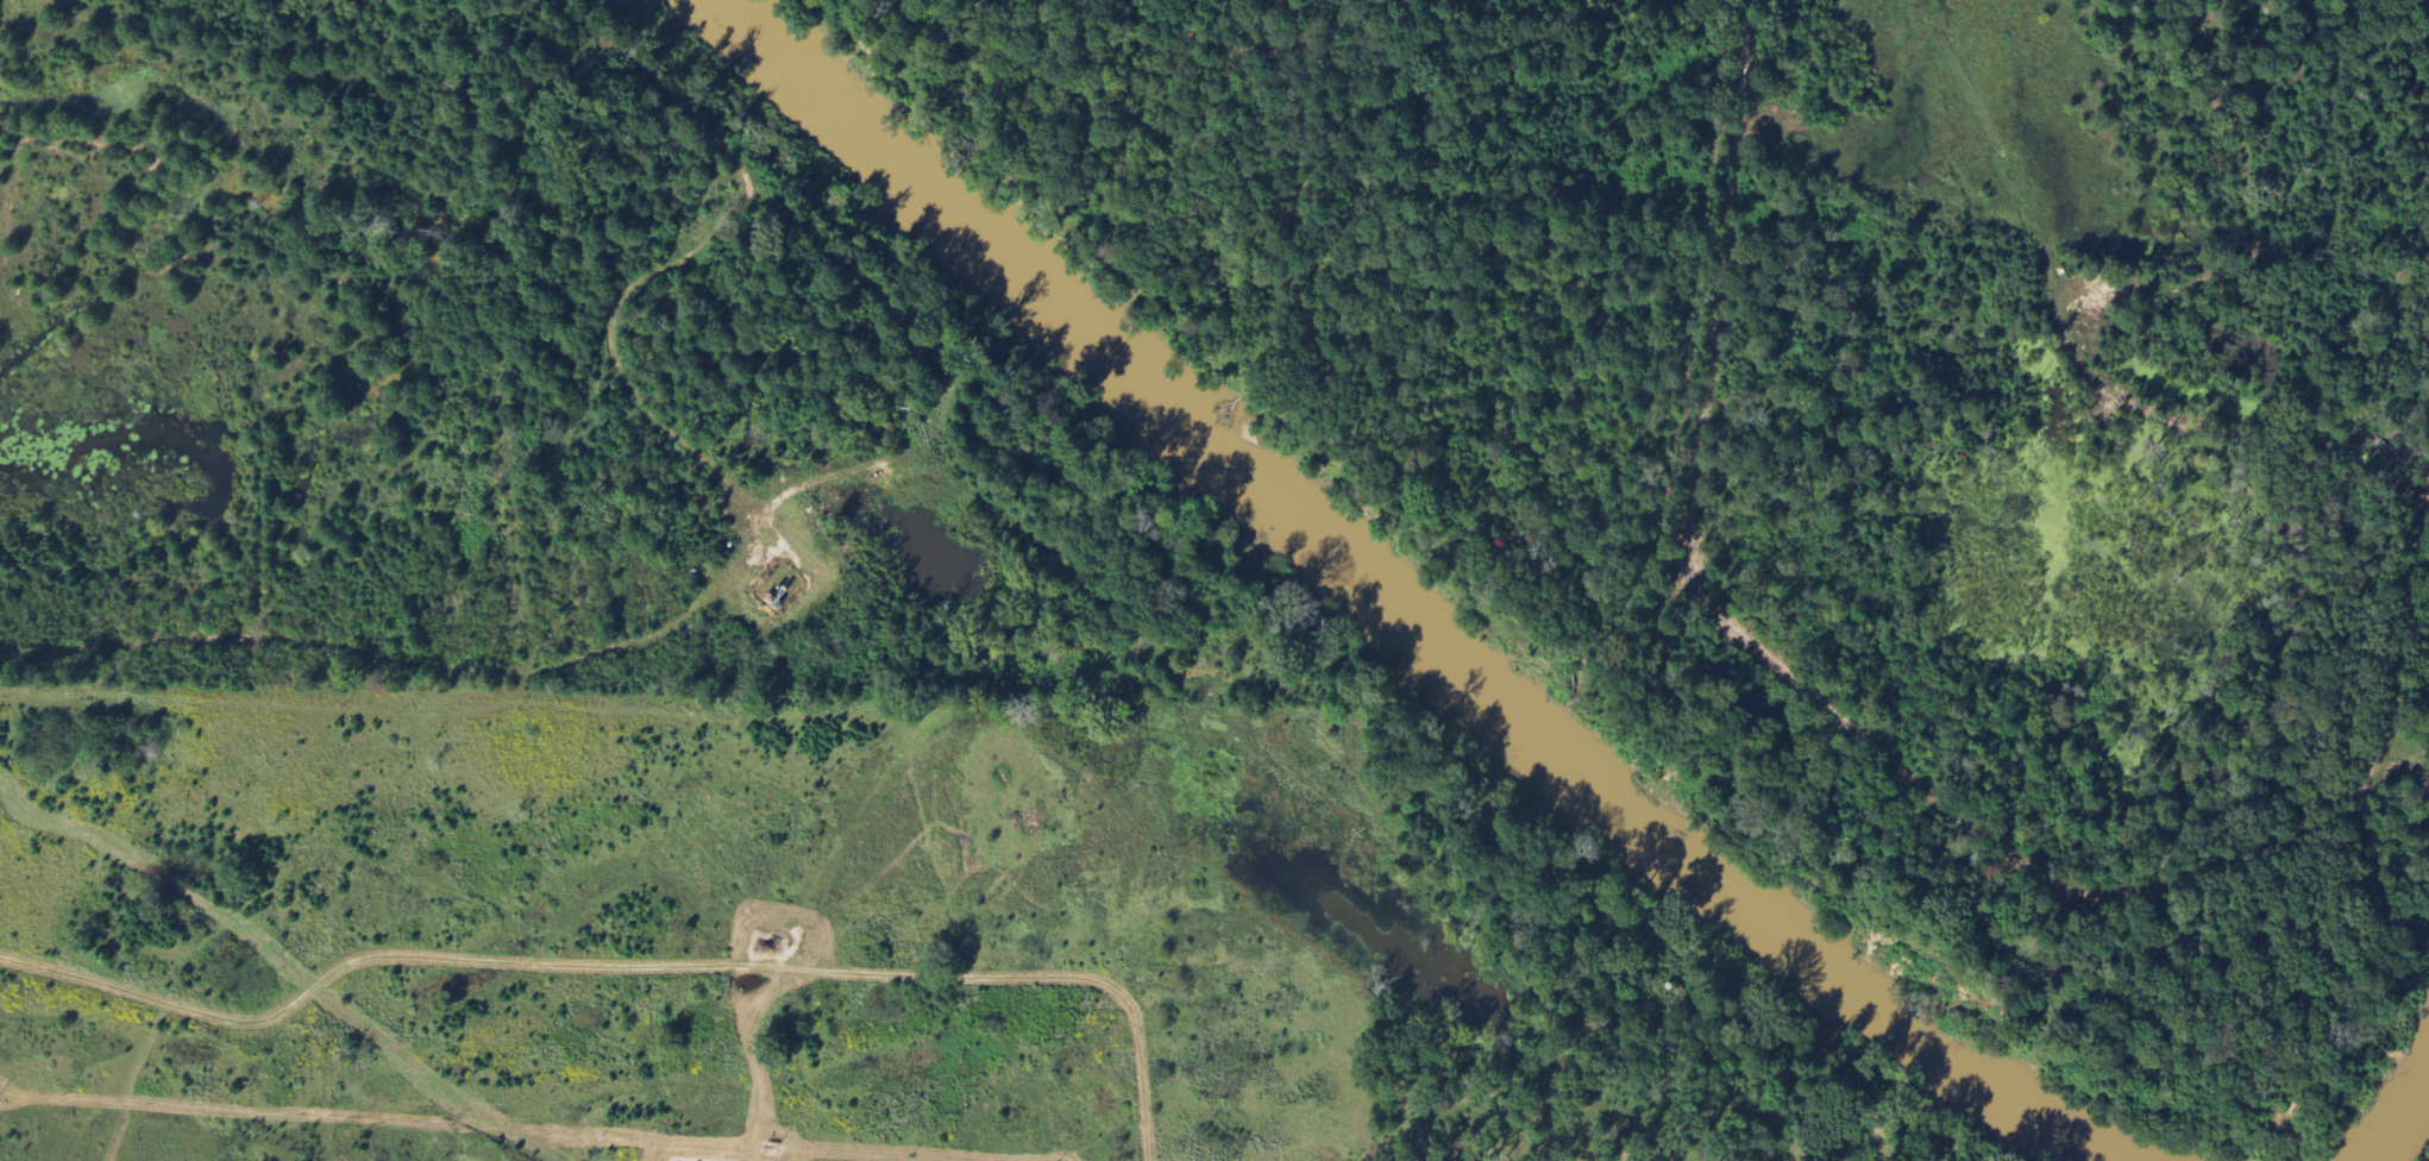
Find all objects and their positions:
river: (1399, 617)
river: (2402, 1122)

